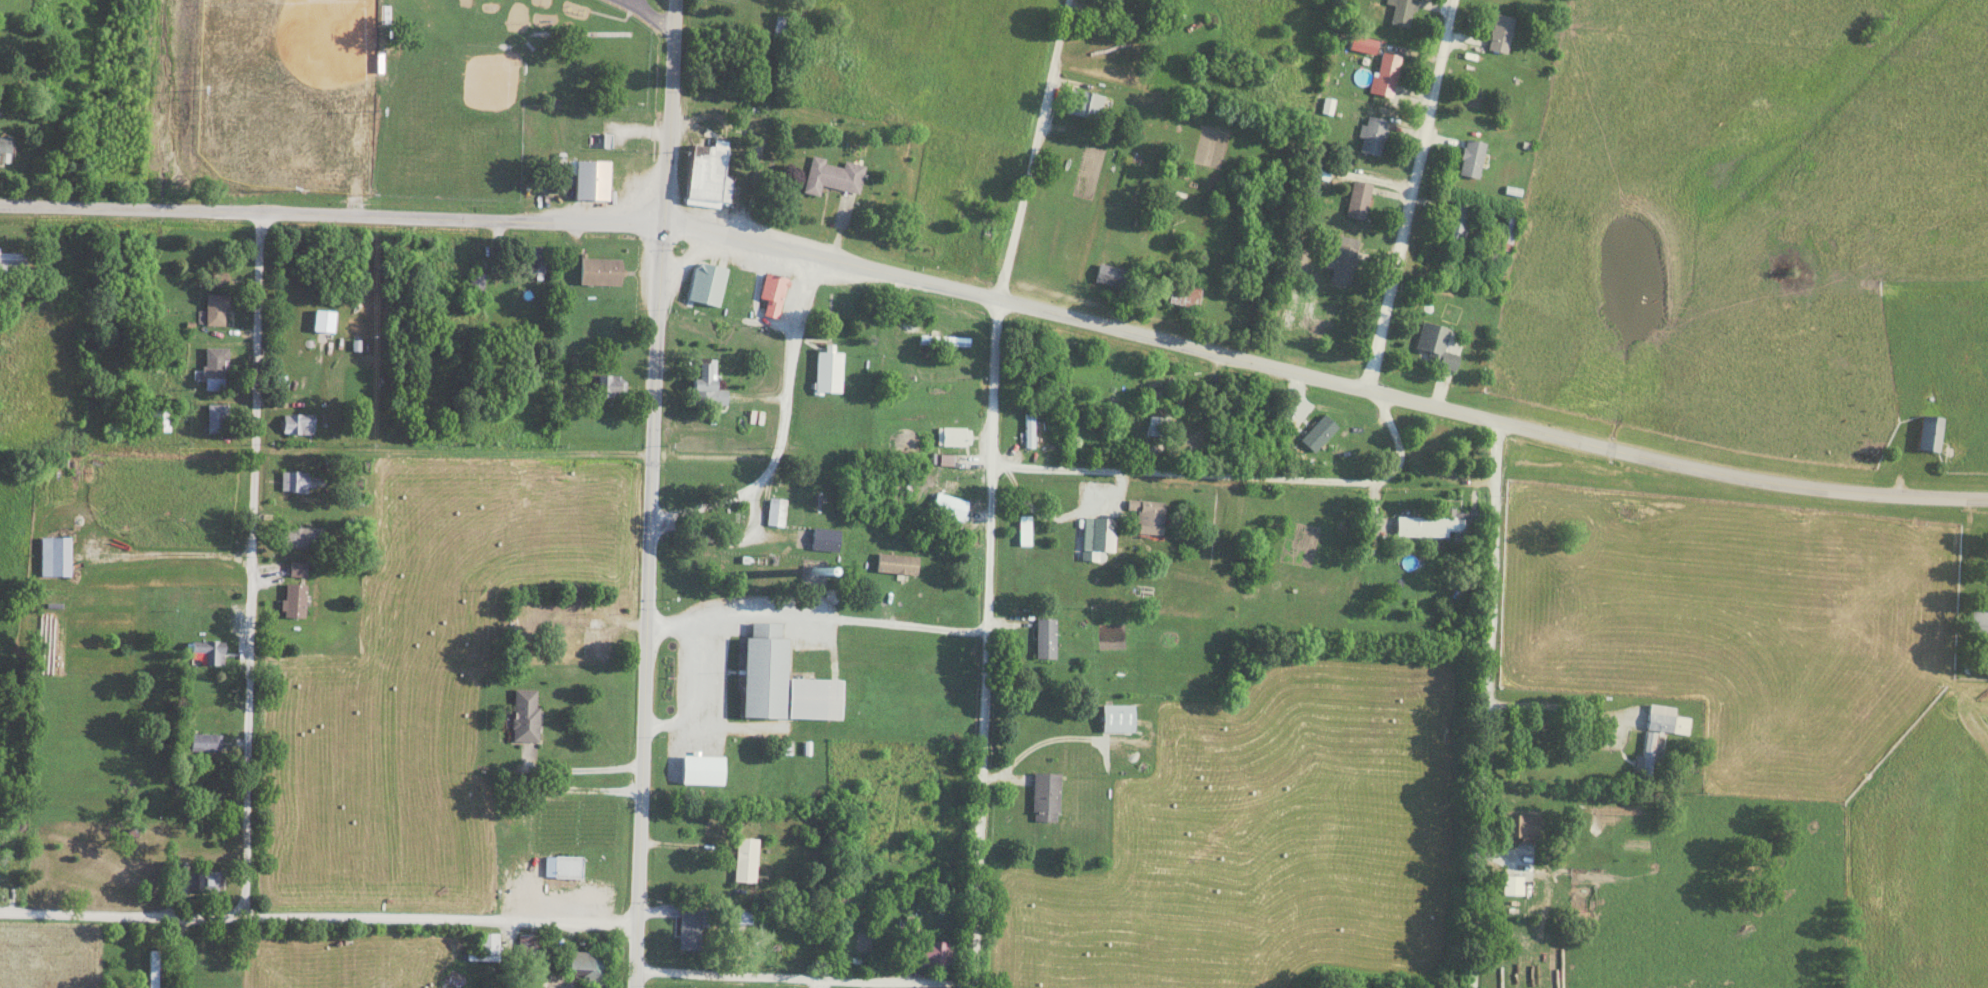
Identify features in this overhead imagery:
building: (428, 4)
building: (1402, 12)
road: (646, 13)
building: (780, 25)
building: (1501, 34)
building: (1387, 71)
park: (286, 92)
building: (1085, 104)
building: (1372, 135)
building: (5, 146)
building: (1472, 158)
building: (833, 176)
building: (709, 177)
building: (593, 180)
road: (1411, 196)
building: (1358, 200)
building: (1457, 222)
building: (963, 246)
building: (13, 258)
building: (533, 260)
building: (1343, 260)
building: (601, 271)
building: (1114, 276)
building: (219, 279)
building: (747, 280)
building: (476, 282)
building: (707, 284)
building: (1185, 293)
building: (773, 294)
road: (1000, 302)
building: (216, 309)
building: (324, 321)
building: (944, 341)
building: (1436, 344)
building: (215, 368)
building: (829, 372)
building: (706, 384)
building: (609, 386)
building: (1182, 400)
building: (217, 418)
building: (159, 420)
road: (1390, 423)
building: (298, 424)
building: (1156, 425)
road: (783, 430)
building: (1029, 430)
building: (1319, 433)
building: (1931, 433)
building: (954, 436)
road: (1419, 439)
road: (452, 452)
road: (1191, 476)
building: (304, 482)
road: (990, 489)
road: (649, 493)
building: (949, 506)
building: (776, 512)
building: (1148, 516)
building: (1438, 525)
building: (1025, 530)
building: (1098, 533)
building: (825, 539)
building: (55, 556)
road: (251, 566)
building: (298, 569)
building: (294, 600)
road: (814, 618)
building: (1979, 624)
building: (593, 637)
building: (1046, 638)
building: (209, 650)
building: (784, 681)
road: (697, 695)
road: (1487, 706)
road: (1563, 712)
building: (526, 714)
building: (1118, 717)
building: (1658, 735)
building: (202, 741)
road: (1058, 741)
road: (572, 771)
building: (689, 772)
building: (1046, 796)
building: (1524, 826)
building: (745, 859)
building: (568, 866)
building: (209, 881)
building: (1513, 884)
road: (317, 918)
building: (692, 929)
building: (488, 943)
building: (528, 944)
building: (933, 954)
building: (588, 964)
building: (153, 969)
road: (803, 978)

